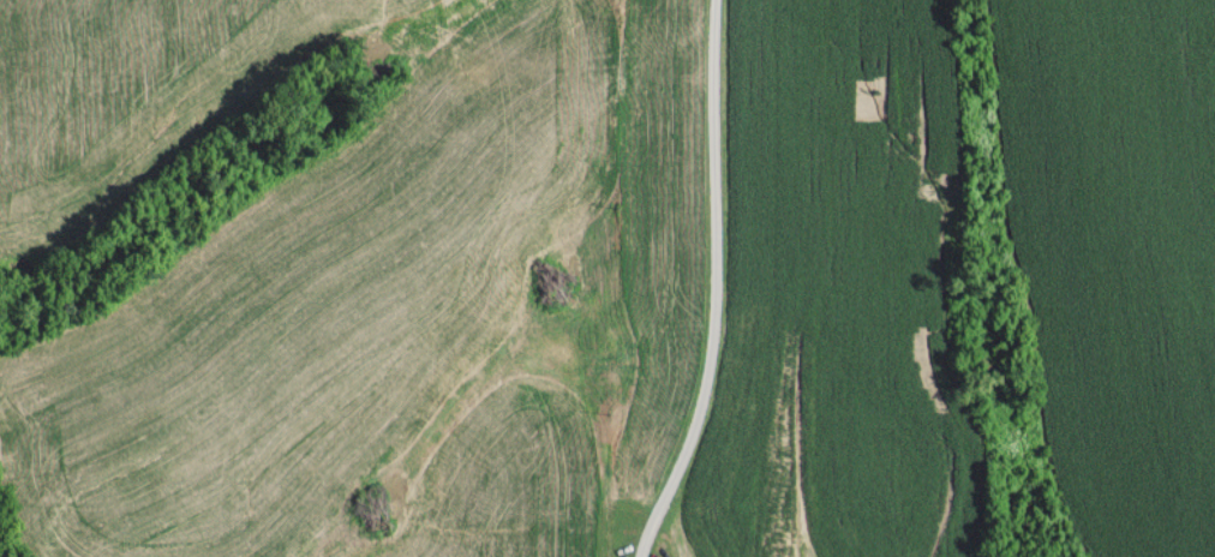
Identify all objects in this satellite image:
road: (718, 285)

